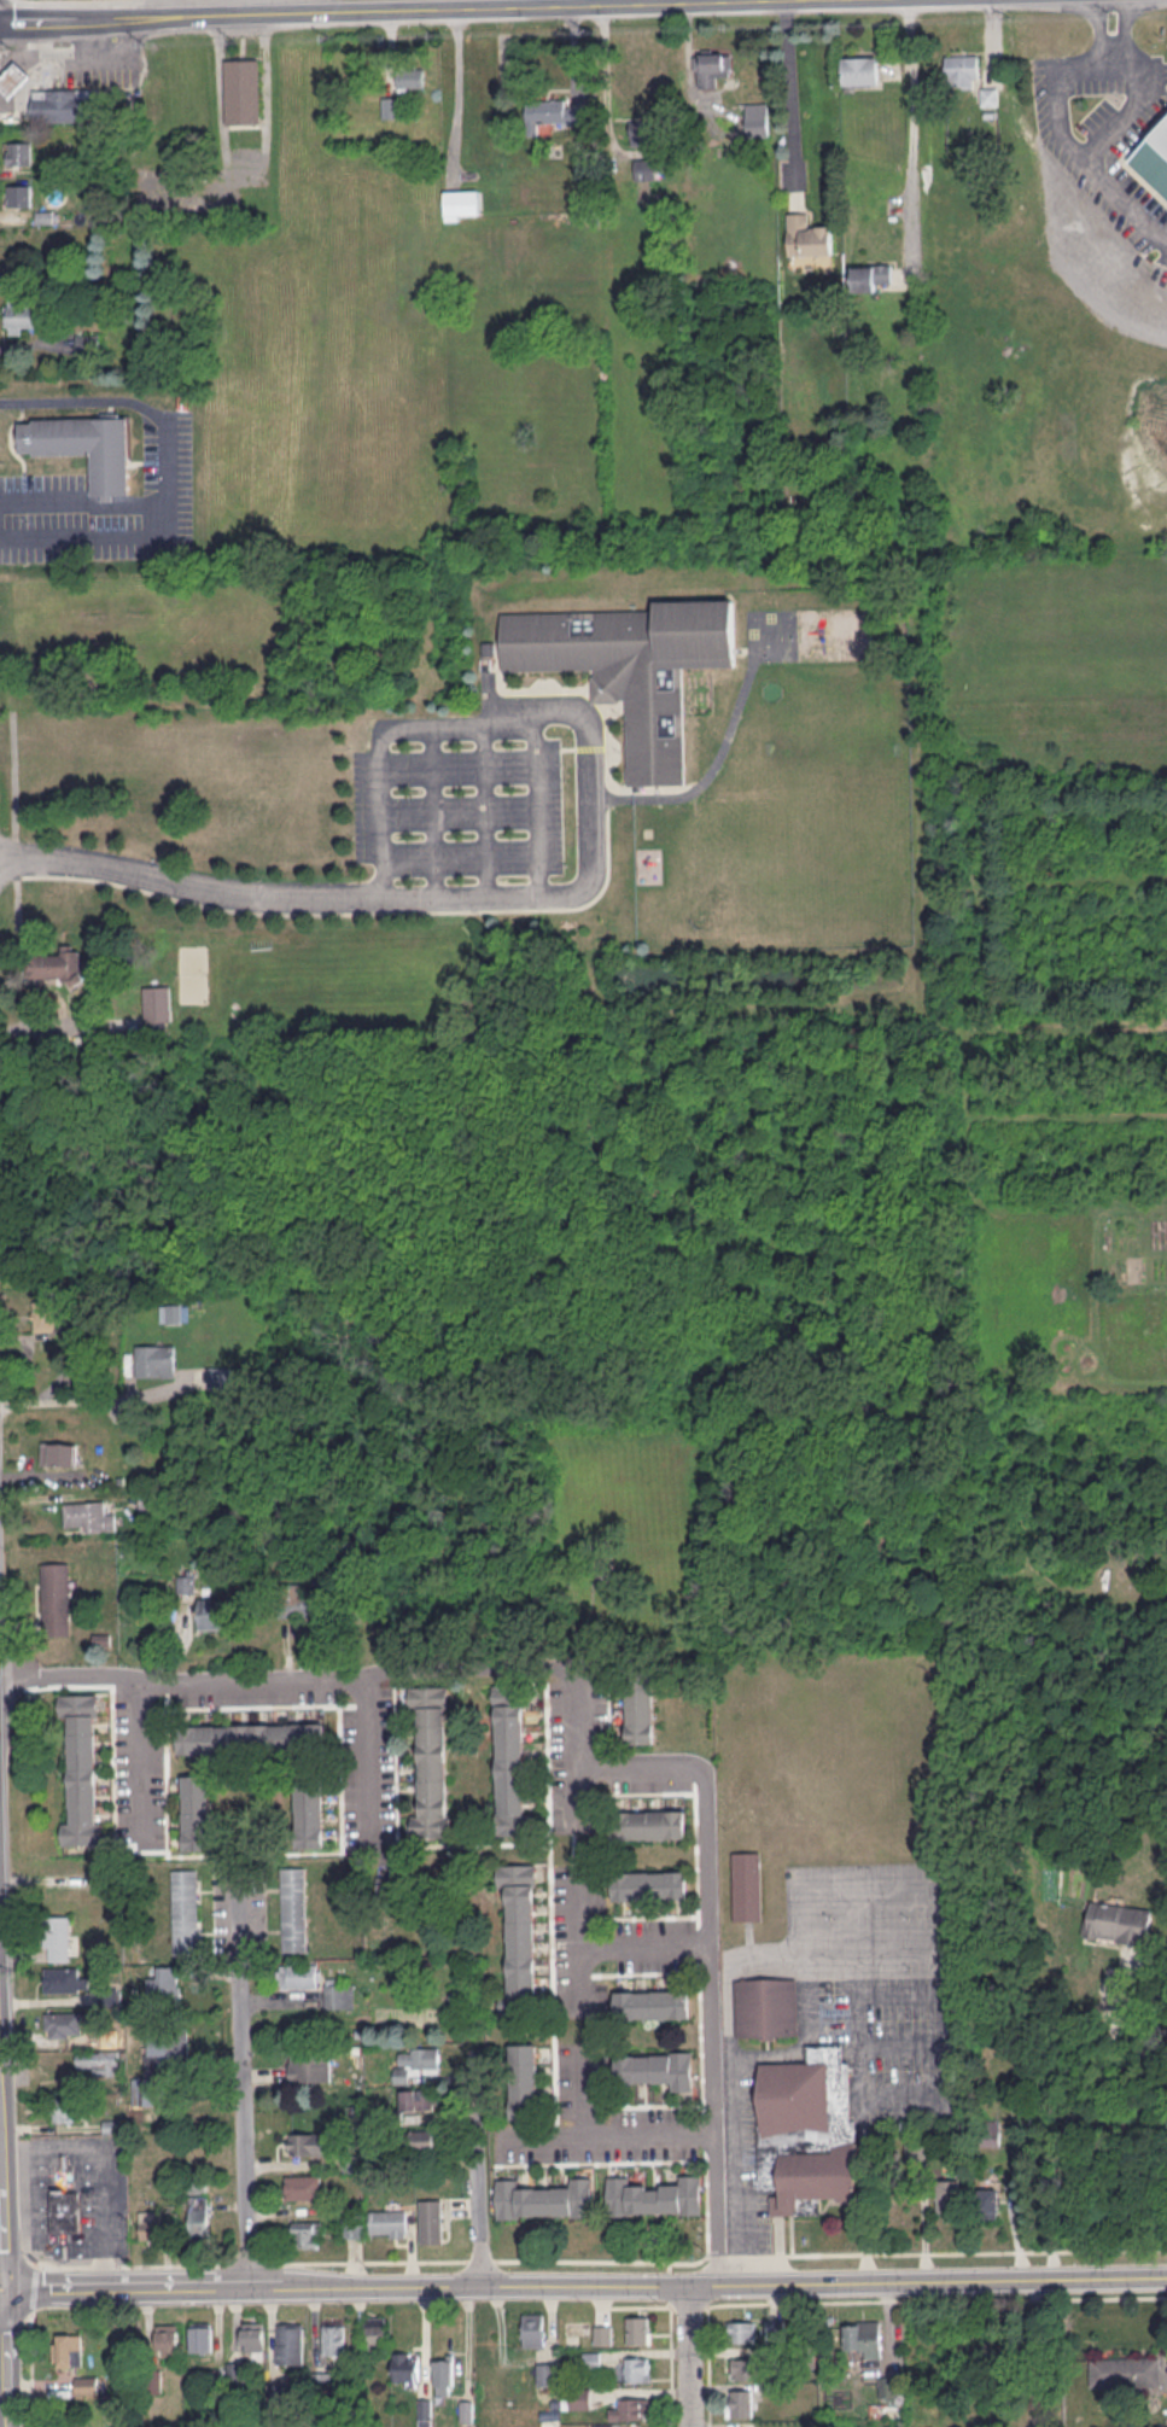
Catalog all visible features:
road: (167, 7)
road: (232, 7)
road: (393, 10)
road: (1093, 43)
road: (83, 59)
building: (712, 68)
road: (37, 69)
building: (963, 69)
building: (860, 70)
road: (606, 76)
building: (12, 77)
building: (410, 78)
building: (243, 91)
road: (1124, 93)
building: (990, 95)
road: (792, 100)
building: (63, 105)
building: (390, 106)
building: (556, 111)
building: (757, 118)
building: (638, 132)
road: (1060, 141)
road: (911, 146)
building: (18, 153)
building: (1154, 158)
building: (649, 168)
building: (19, 194)
building: (461, 204)
building: (807, 235)
building: (870, 278)
building: (27, 315)
building: (86, 447)
road: (169, 469)
road: (84, 501)
building: (630, 666)
road: (14, 772)
road: (432, 810)
road: (380, 821)
road: (17, 859)
road: (490, 894)
road: (354, 911)
building: (57, 964)
building: (156, 1003)
road: (22, 1022)
road: (360, 1238)
building: (169, 1313)
building: (45, 1314)
building: (153, 1360)
building: (220, 1375)
road: (92, 1400)
building: (58, 1453)
building: (148, 1501)
building: (88, 1516)
road: (1138, 1595)
building: (56, 1598)
building: (307, 1602)
building: (212, 1612)
road: (320, 1679)
building: (638, 1703)
road: (558, 1710)
building: (432, 1714)
building: (510, 1729)
building: (432, 1737)
building: (252, 1738)
road: (141, 1755)
road: (369, 1757)
building: (432, 1763)
building: (82, 1768)
road: (694, 1774)
building: (512, 1784)
road: (648, 1791)
road: (573, 1792)
road: (587, 1792)
building: (434, 1795)
building: (198, 1812)
building: (310, 1813)
building: (647, 1822)
road: (695, 1853)
building: (515, 1872)
building: (648, 1884)
building: (747, 1885)
building: (519, 1901)
building: (293, 1908)
building: (185, 1910)
road: (644, 1916)
road: (552, 1918)
road: (583, 1918)
building: (1116, 1921)
building: (519, 1936)
building: (59, 1938)
road: (576, 1942)
road: (698, 1942)
road: (643, 1950)
road: (711, 1961)
building: (520, 1972)
building: (298, 1974)
building: (66, 1979)
building: (164, 1984)
building: (339, 1994)
building: (653, 2003)
building: (765, 2006)
building: (64, 2024)
road: (699, 2031)
building: (416, 2061)
building: (97, 2063)
building: (310, 2066)
building: (657, 2067)
building: (162, 2069)
building: (524, 2079)
road: (578, 2093)
building: (419, 2099)
road: (652, 2104)
road: (0, 2105)
building: (69, 2108)
road: (1073, 2111)
road: (244, 2119)
road: (702, 2125)
building: (806, 2130)
road: (556, 2131)
building: (987, 2133)
road: (607, 2135)
building: (424, 2139)
parking lot: (618, 2139)
building: (308, 2143)
road: (600, 2161)
road: (109, 2164)
road: (477, 2168)
building: (303, 2186)
building: (654, 2195)
building: (947, 2198)
building: (544, 2199)
building: (988, 2201)
building: (64, 2210)
road: (2, 2216)
building: (431, 2219)
building: (198, 2221)
building: (387, 2222)
building: (150, 2223)
building: (350, 2227)
building: (307, 2233)
road: (790, 2235)
road: (976, 2250)
road: (746, 2254)
road: (480, 2259)
road: (370, 2260)
road: (654, 2260)
road: (250, 2262)
road: (16, 2263)
road: (35, 2263)
road: (130, 2264)
road: (669, 2265)
road: (734, 2281)
road: (152, 2283)
road: (669, 2287)
road: (33, 2288)
road: (2, 2291)
traffic signals: (5, 2291)
road: (936, 2299)
road: (688, 2305)
road: (637, 2306)
road: (13, 2320)
road: (29, 2320)
building: (532, 2329)
building: (637, 2329)
building: (742, 2330)
building: (374, 2333)
building: (602, 2333)
building: (200, 2338)
building: (253, 2338)
building: (333, 2339)
building: (862, 2339)
building: (168, 2340)
building: (290, 2343)
building: (66, 2350)
road: (1033, 2350)
road: (688, 2355)
road: (7, 2358)
building: (591, 2359)
road: (707, 2365)
building: (405, 2367)
road: (671, 2367)
building: (745, 2368)
road: (31, 2369)
building: (637, 2369)
building: (1126, 2371)
building: (443, 2373)
building: (547, 2374)
building: (86, 2384)
building: (577, 2398)
building: (740, 2402)
building: (631, 2409)
building: (424, 2413)

